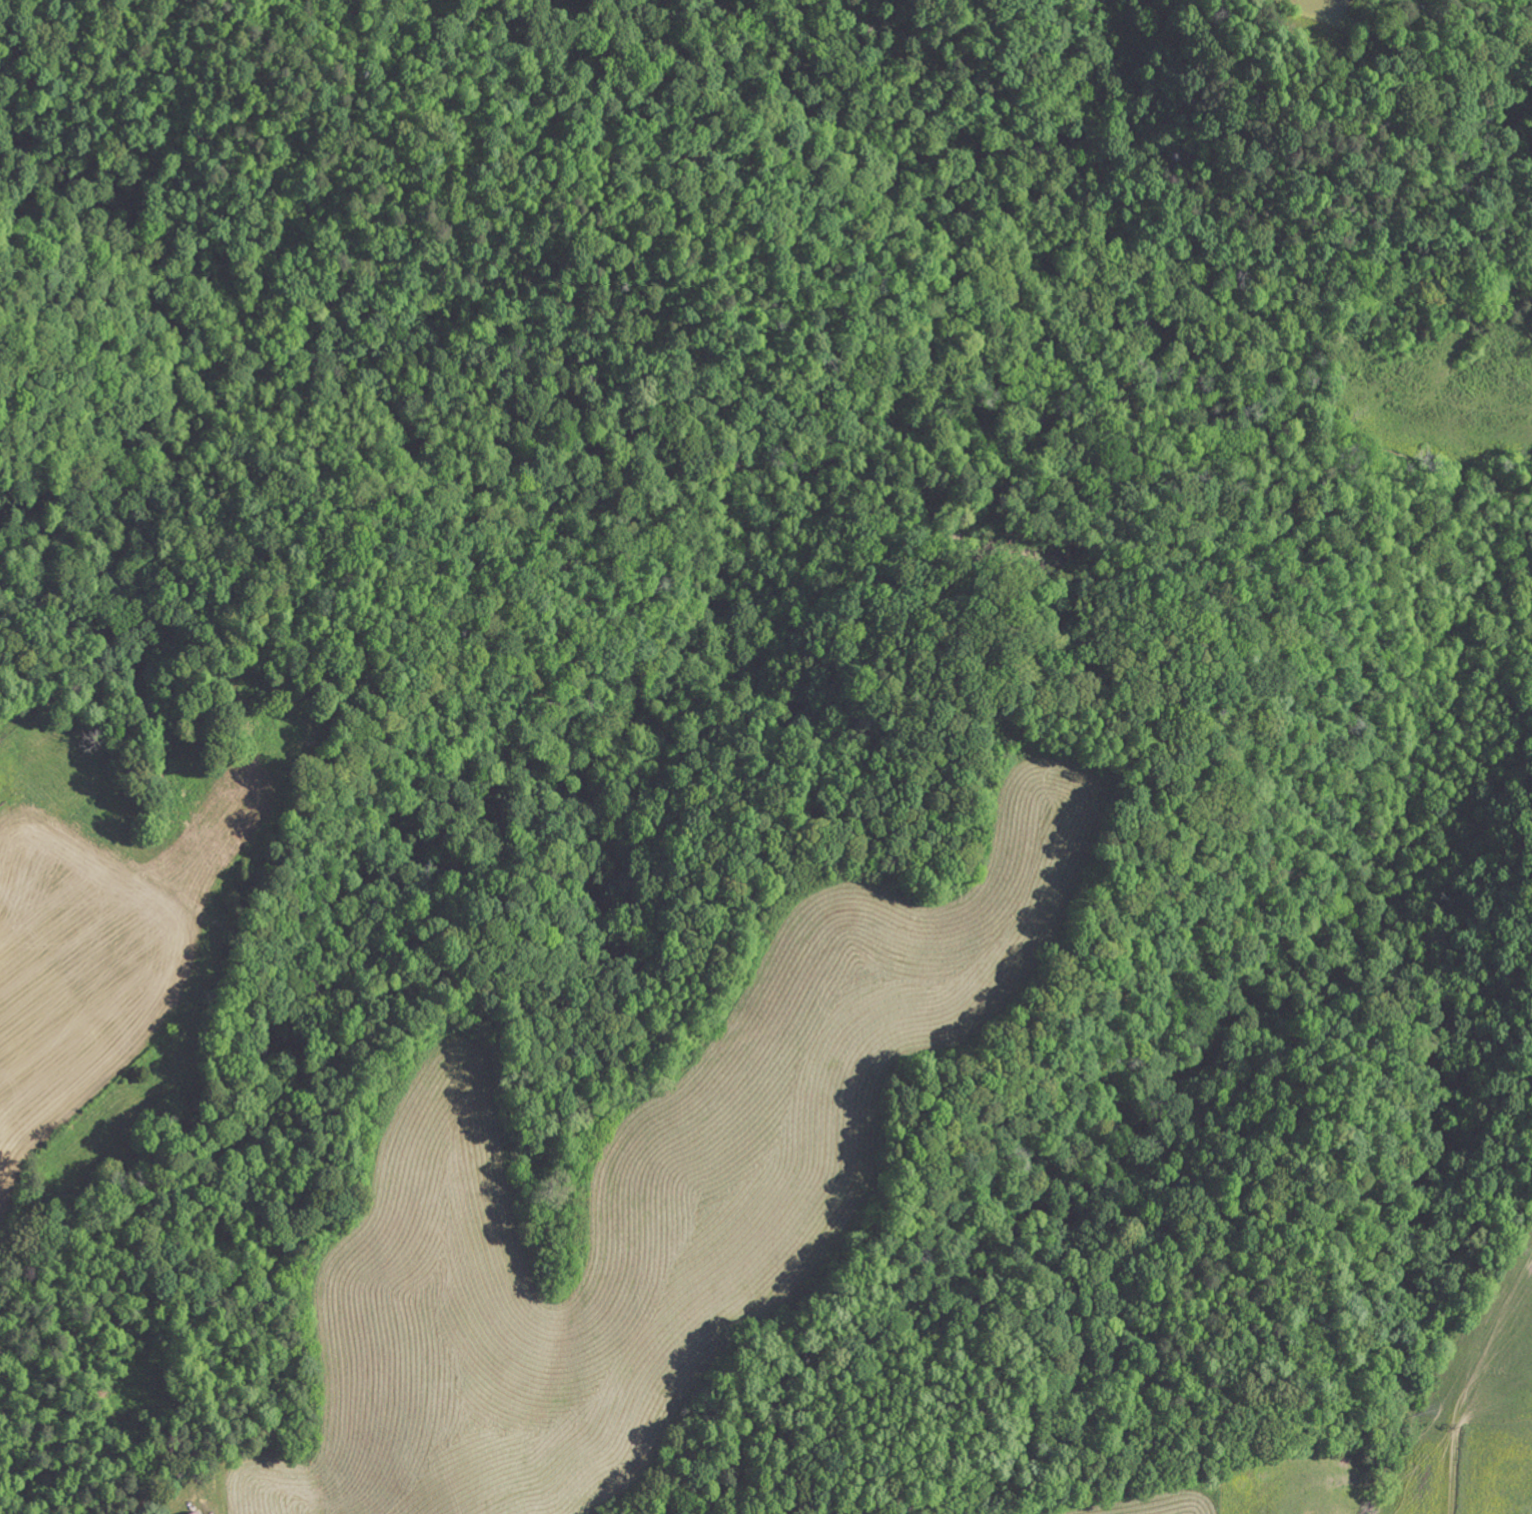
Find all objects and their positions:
building: (191, 1512)

